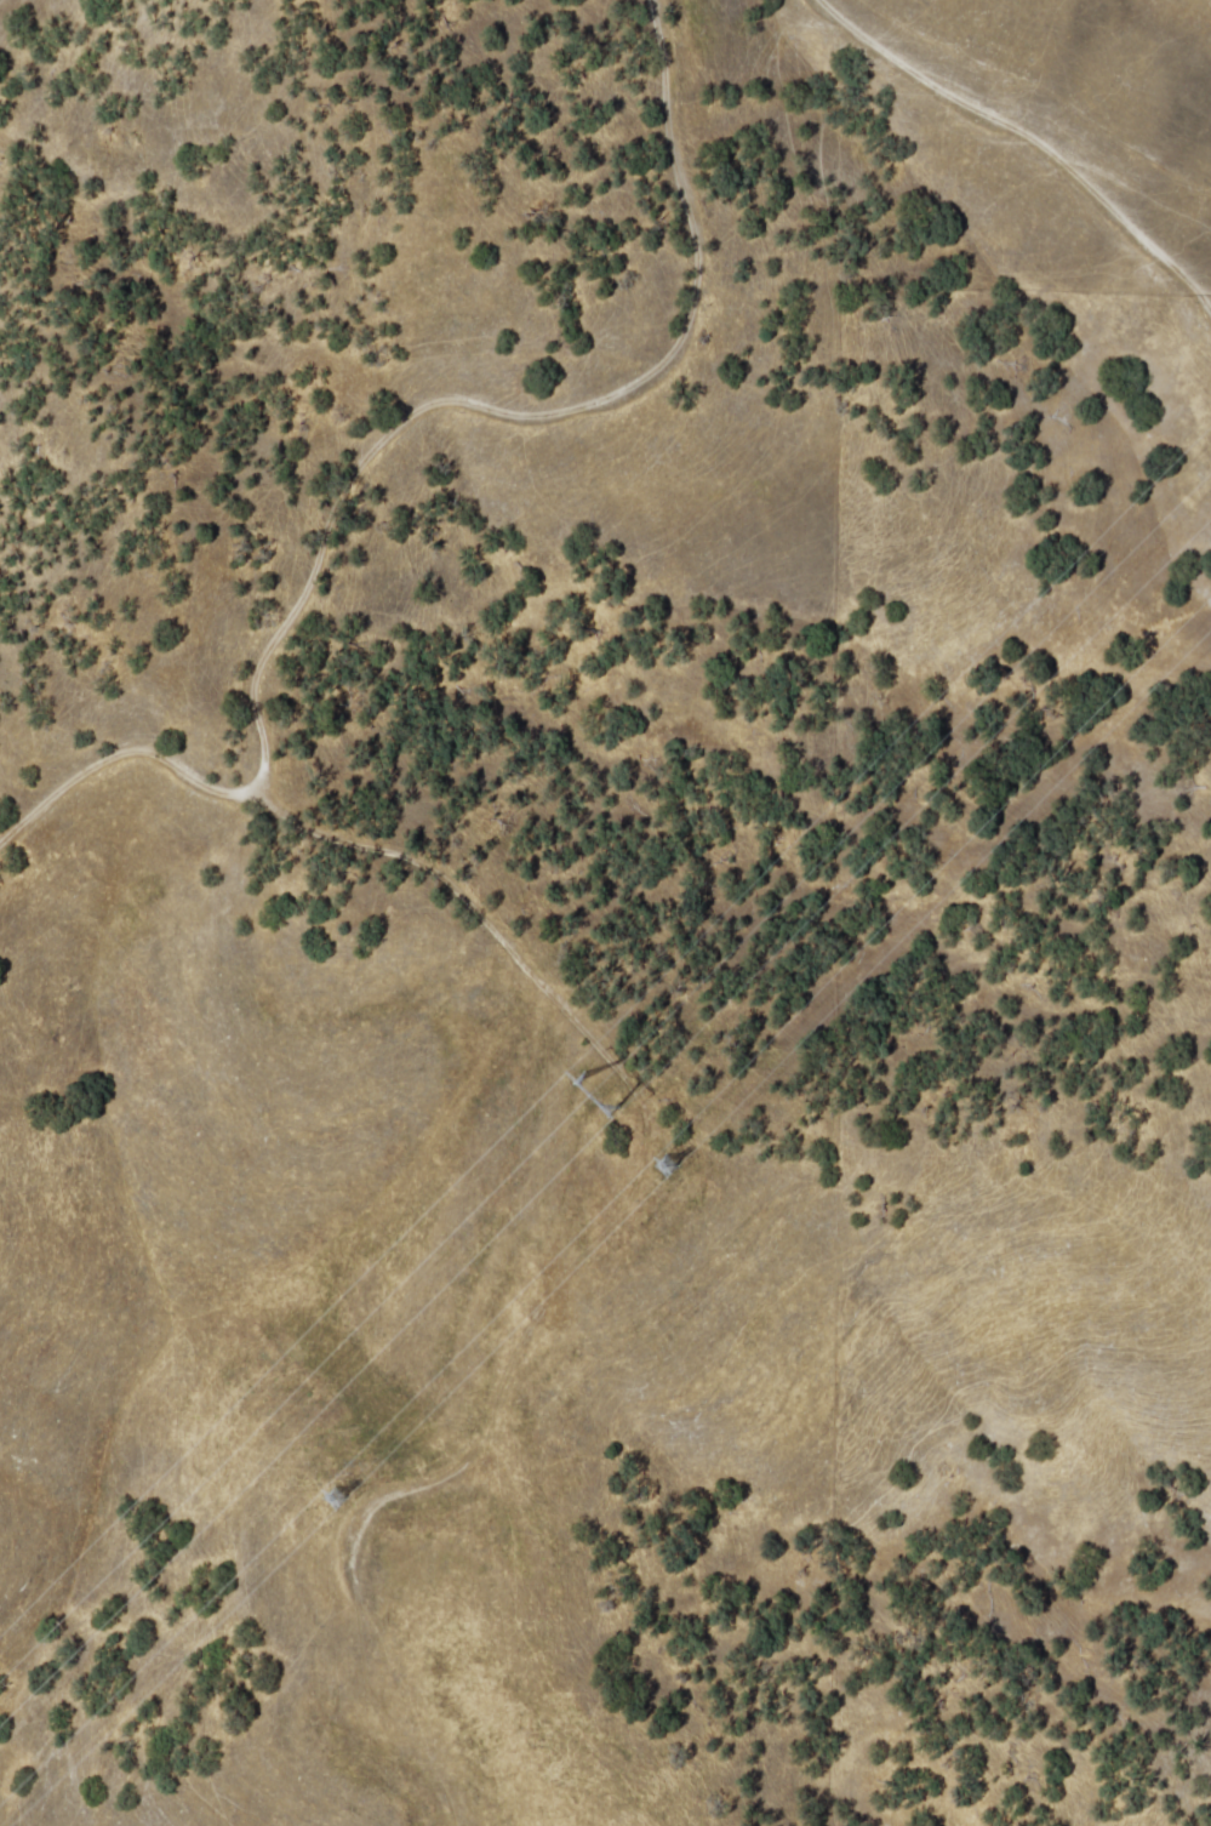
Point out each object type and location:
road: (1076, 127)
road: (701, 144)
road: (313, 576)
power tower: (590, 1082)
power tower: (669, 1163)
power tower: (332, 1487)

